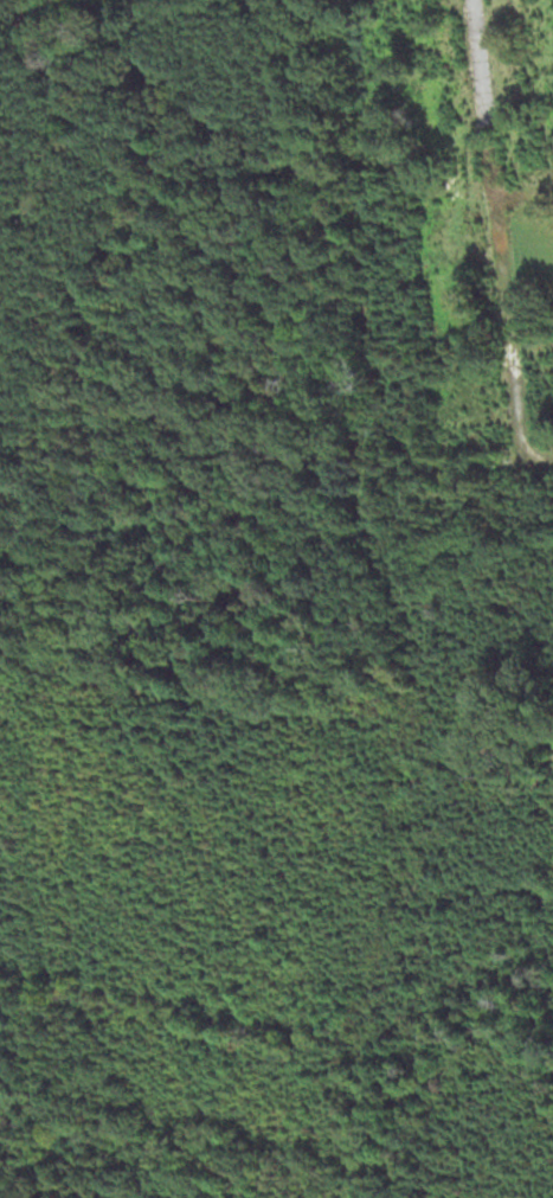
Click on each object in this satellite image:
road: (522, 193)
road: (495, 230)
road: (538, 459)

